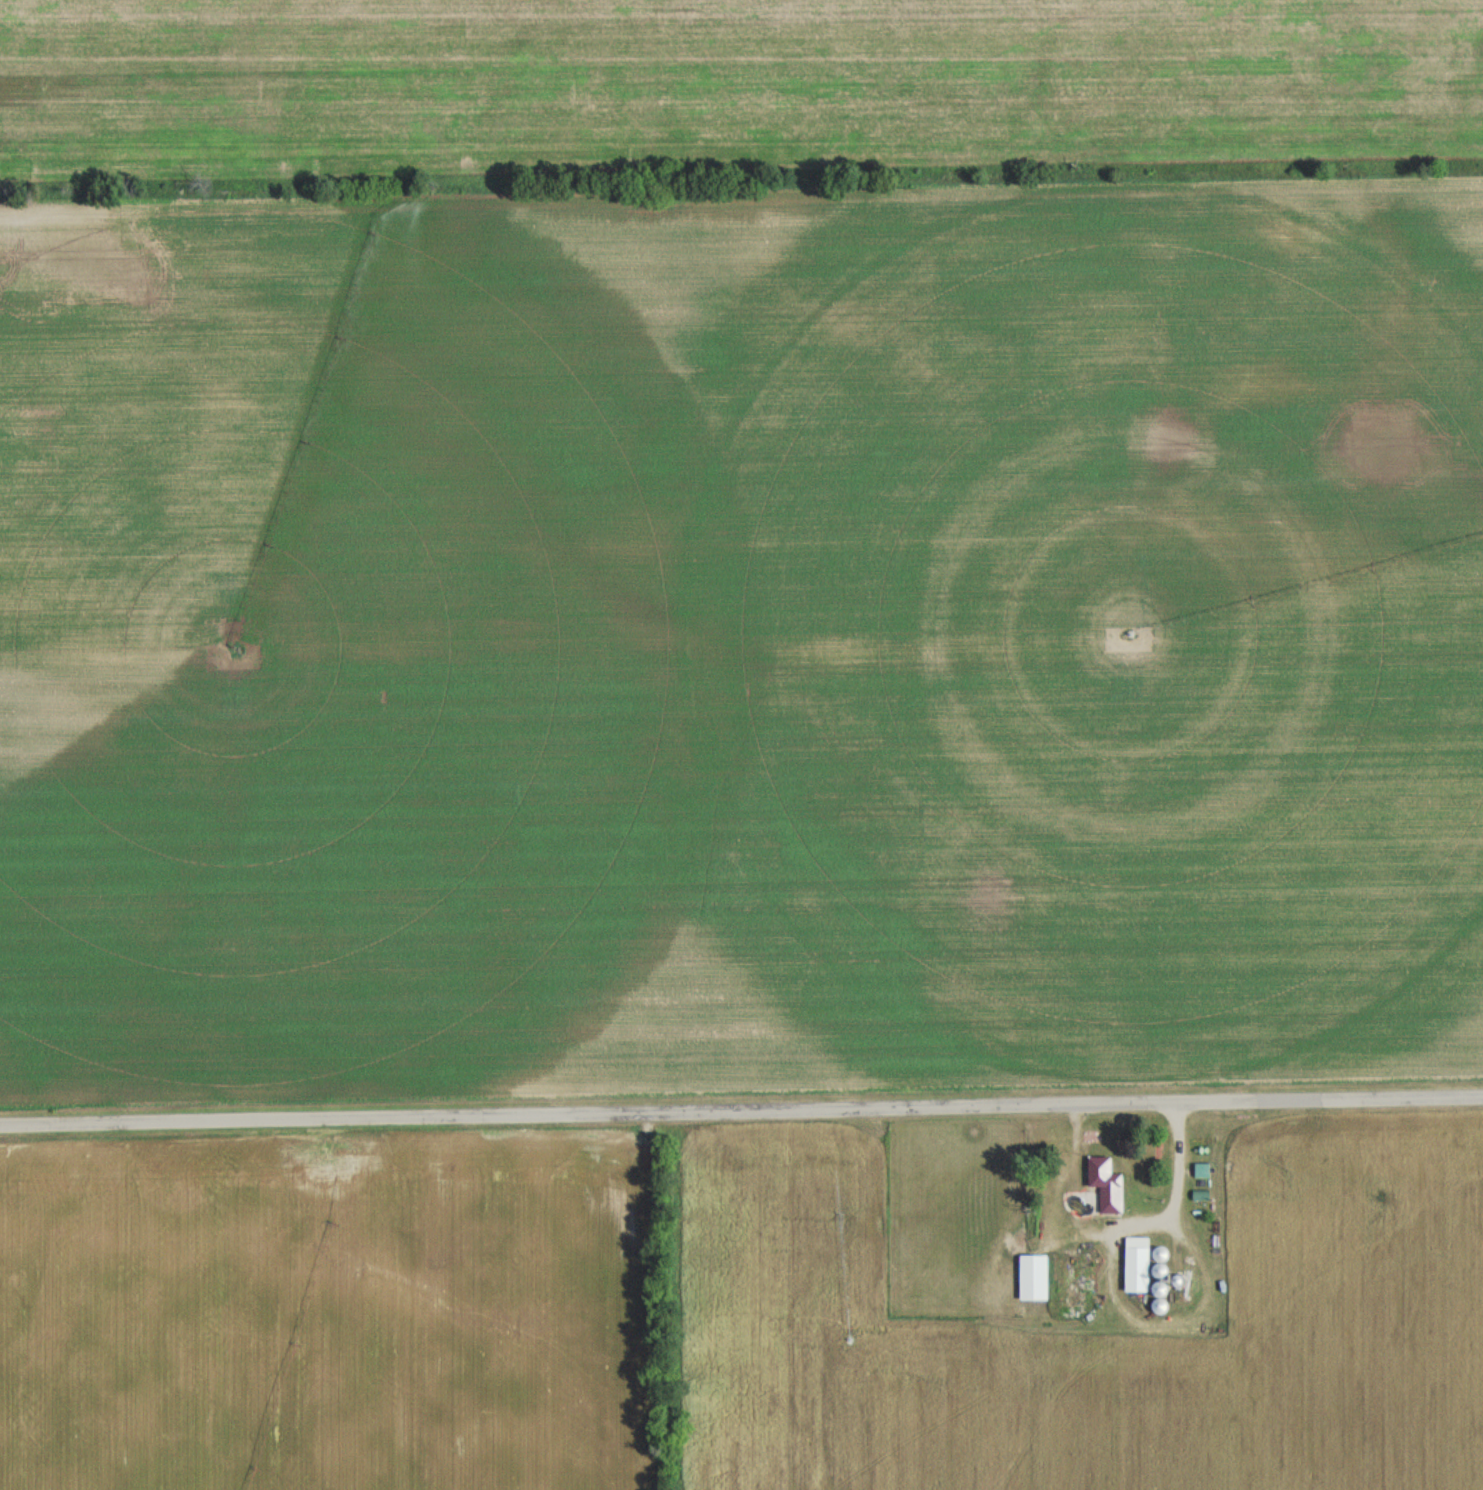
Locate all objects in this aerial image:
road: (741, 1113)
building: (1201, 1171)
building: (1105, 1185)
building: (1135, 1264)
building: (1032, 1277)

